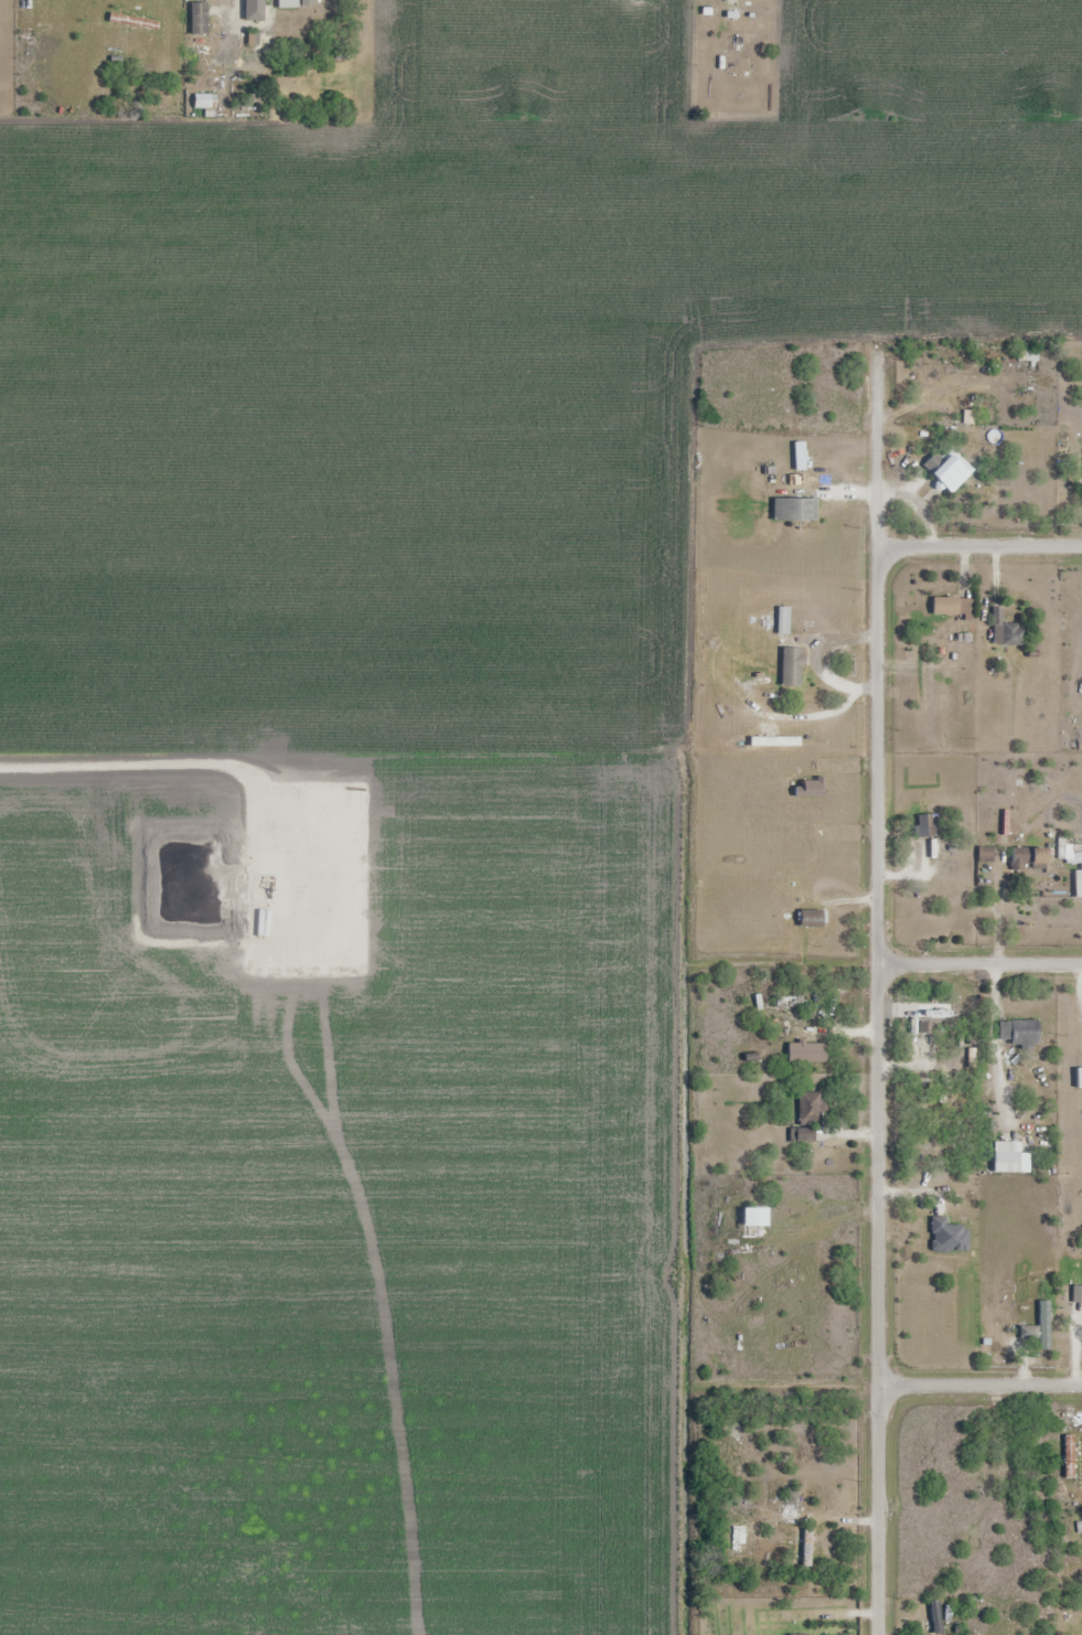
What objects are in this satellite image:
building: (307, 2)
building: (253, 10)
building: (194, 18)
building: (737, 46)
building: (204, 101)
building: (949, 469)
building: (794, 510)
road: (979, 546)
building: (952, 607)
building: (1006, 631)
building: (791, 667)
building: (925, 825)
building: (986, 854)
building: (1029, 858)
building: (1079, 883)
building: (811, 918)
road: (979, 961)
building: (792, 1002)
road: (877, 1005)
building: (935, 1017)
building: (1019, 1033)
building: (1080, 1078)
building: (807, 1115)
building: (1009, 1158)
building: (754, 1223)
building: (1078, 1295)
building: (1043, 1325)
road: (979, 1386)
building: (742, 1455)
building: (1069, 1456)
building: (806, 1547)
building: (935, 1617)
building: (800, 1634)

